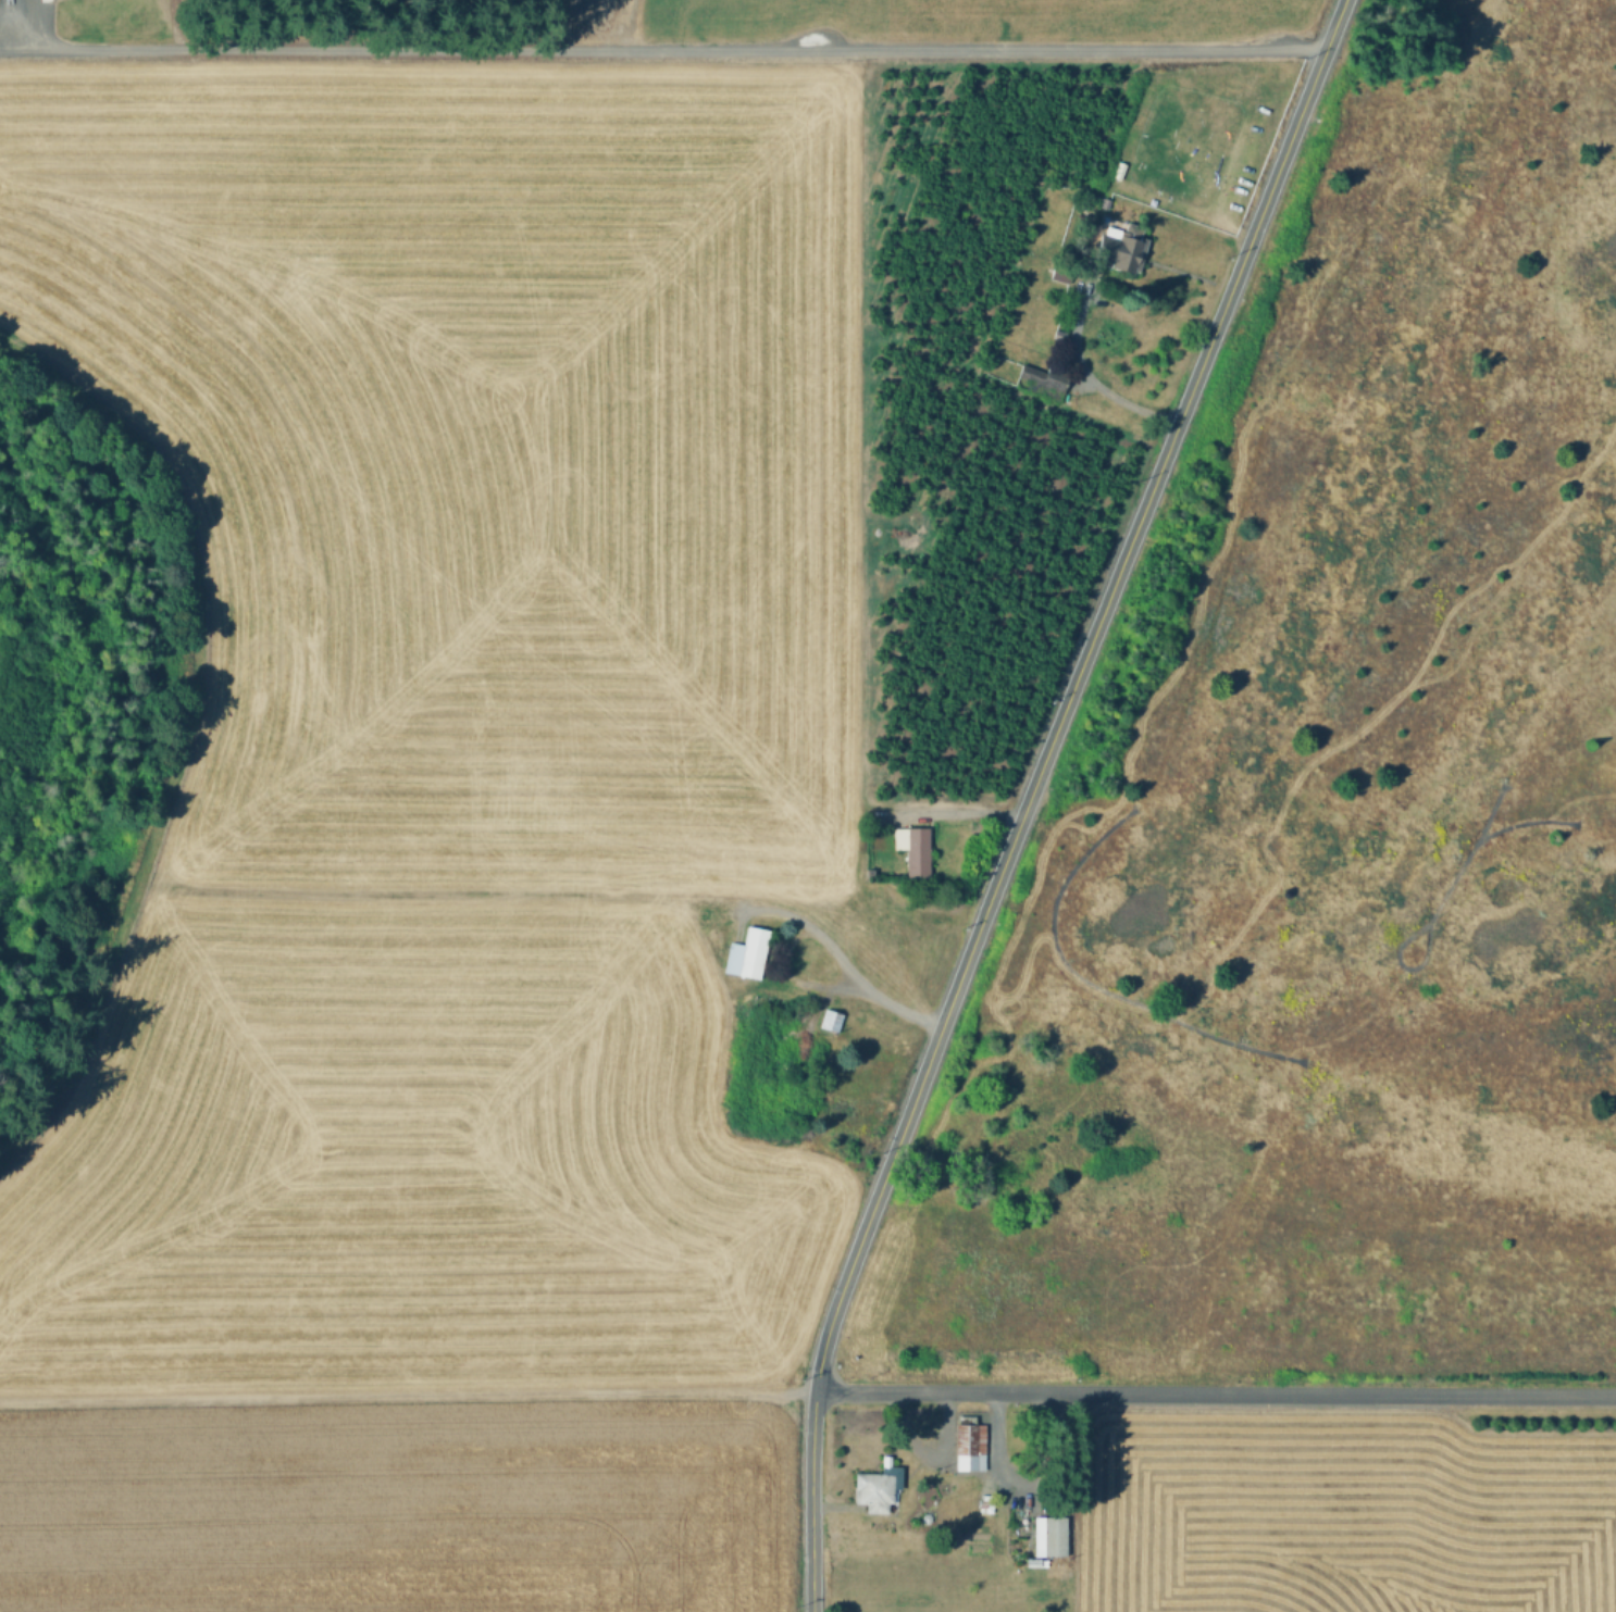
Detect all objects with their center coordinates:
road: (652, 53)
building: (1122, 248)
building: (1061, 272)
building: (1060, 335)
building: (1045, 380)
road: (1092, 384)
road: (1031, 796)
road: (959, 812)
park: (1330, 815)
building: (915, 850)
building: (748, 957)
road: (840, 964)
road: (791, 980)
building: (831, 1024)
road: (1215, 1390)
road: (407, 1395)
building: (973, 1453)
road: (1023, 1484)
building: (879, 1488)
crop: (1348, 1510)
building: (925, 1521)
silo: (925, 1521)
building: (1046, 1539)

